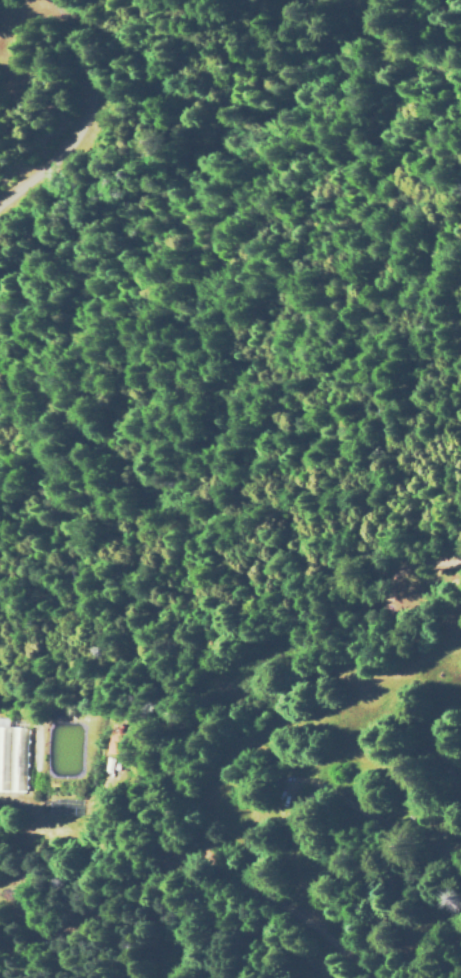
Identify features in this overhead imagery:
building: (113, 743)
building: (12, 758)

